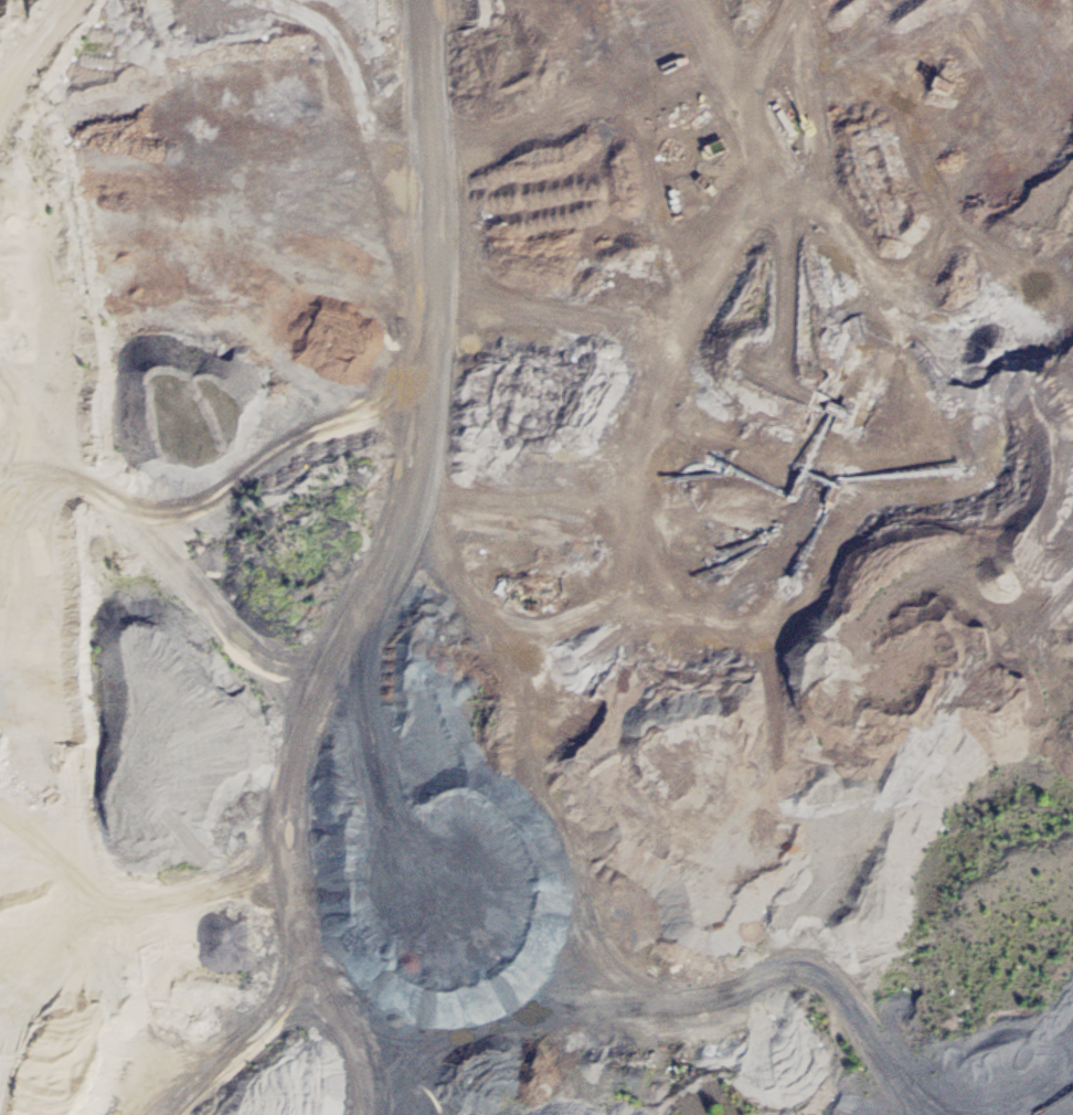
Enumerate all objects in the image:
quarry: (113, 951)

